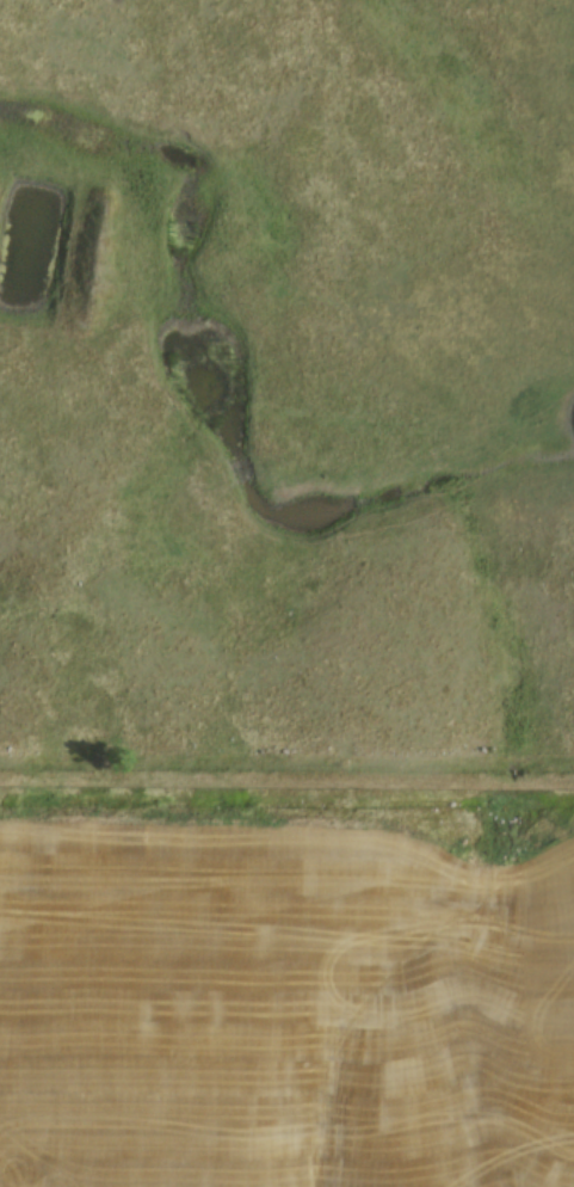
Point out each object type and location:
road: (286, 754)

